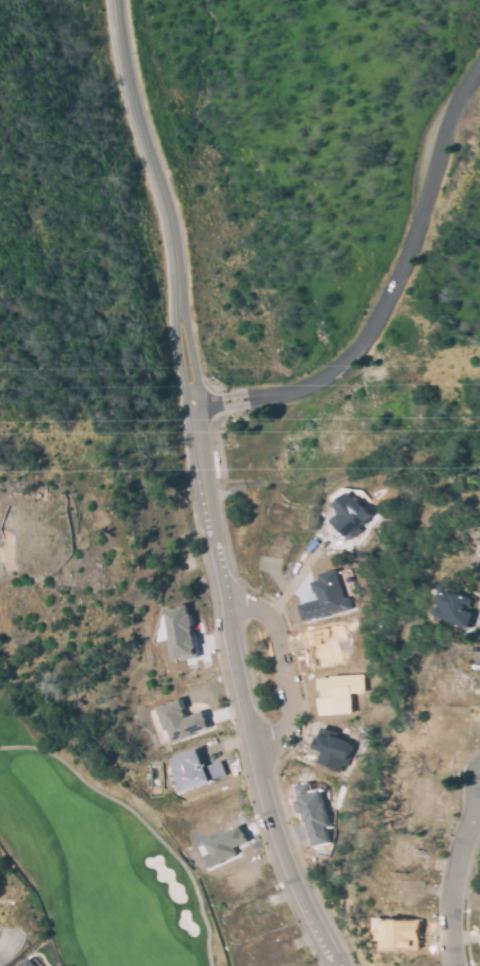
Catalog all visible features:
road: (398, 275)
road: (214, 404)
road: (205, 488)
building: (350, 513)
road: (295, 578)
building: (325, 596)
building: (460, 607)
building: (179, 631)
road: (276, 674)
building: (338, 693)
building: (178, 719)
building: (331, 749)
building: (194, 770)
road: (471, 782)
road: (479, 804)
building: (311, 811)
building: (222, 844)
park: (85, 864)
road: (454, 883)
building: (401, 934)
building: (26, 963)

